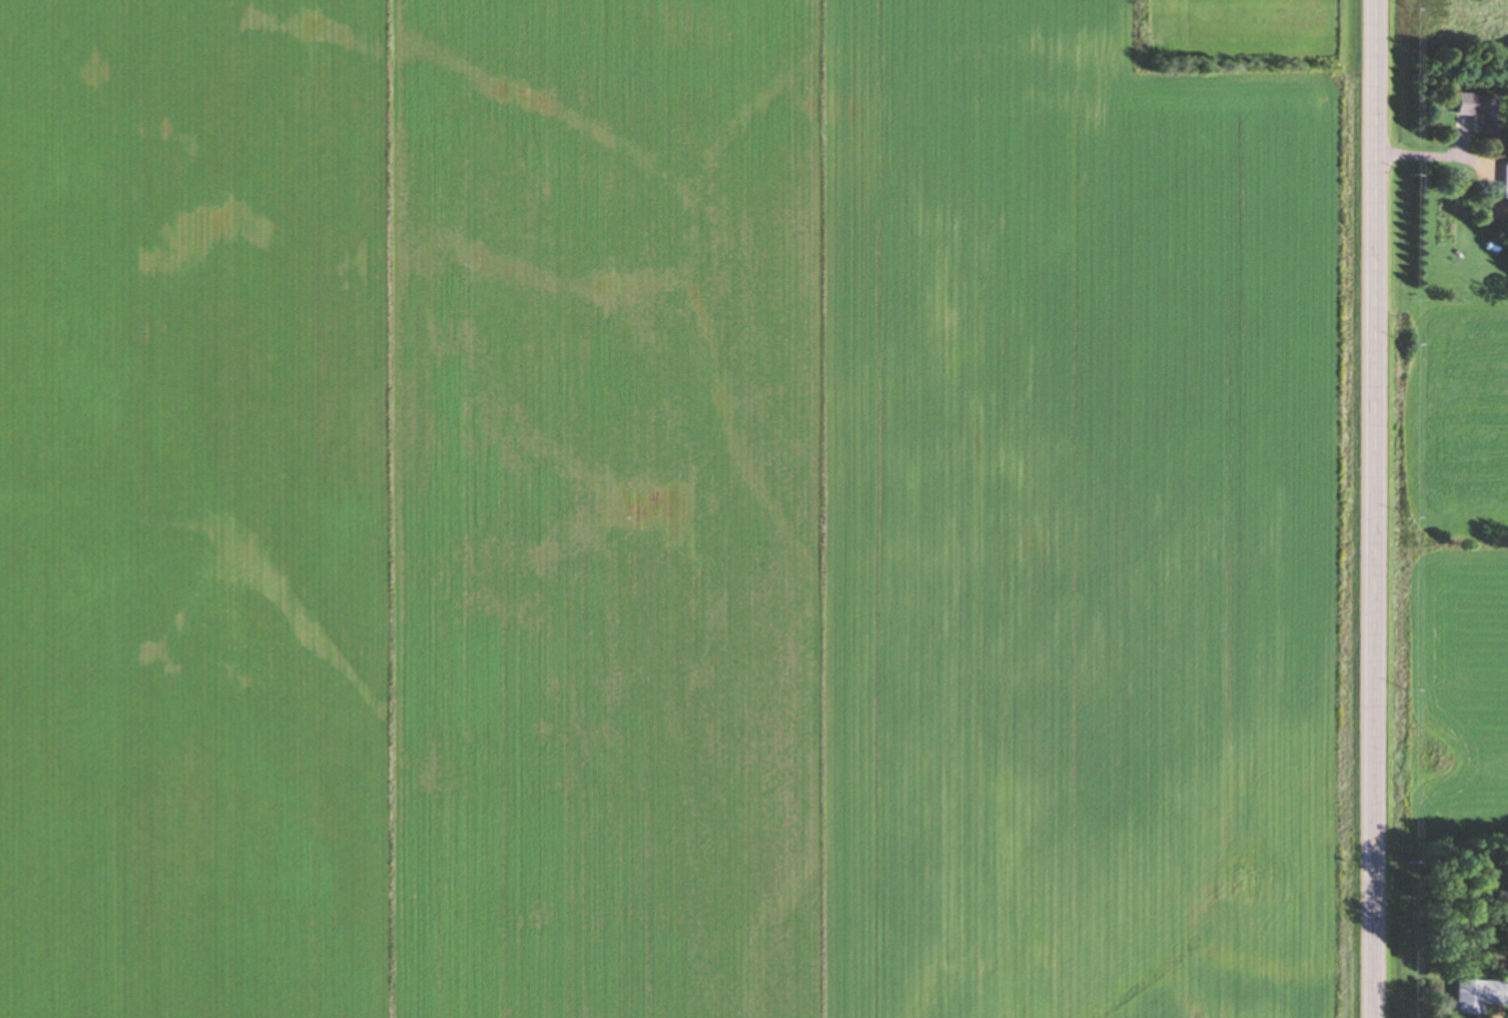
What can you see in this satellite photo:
building: (1477, 109)
building: (1505, 179)
road: (1376, 509)
building: (1478, 993)

